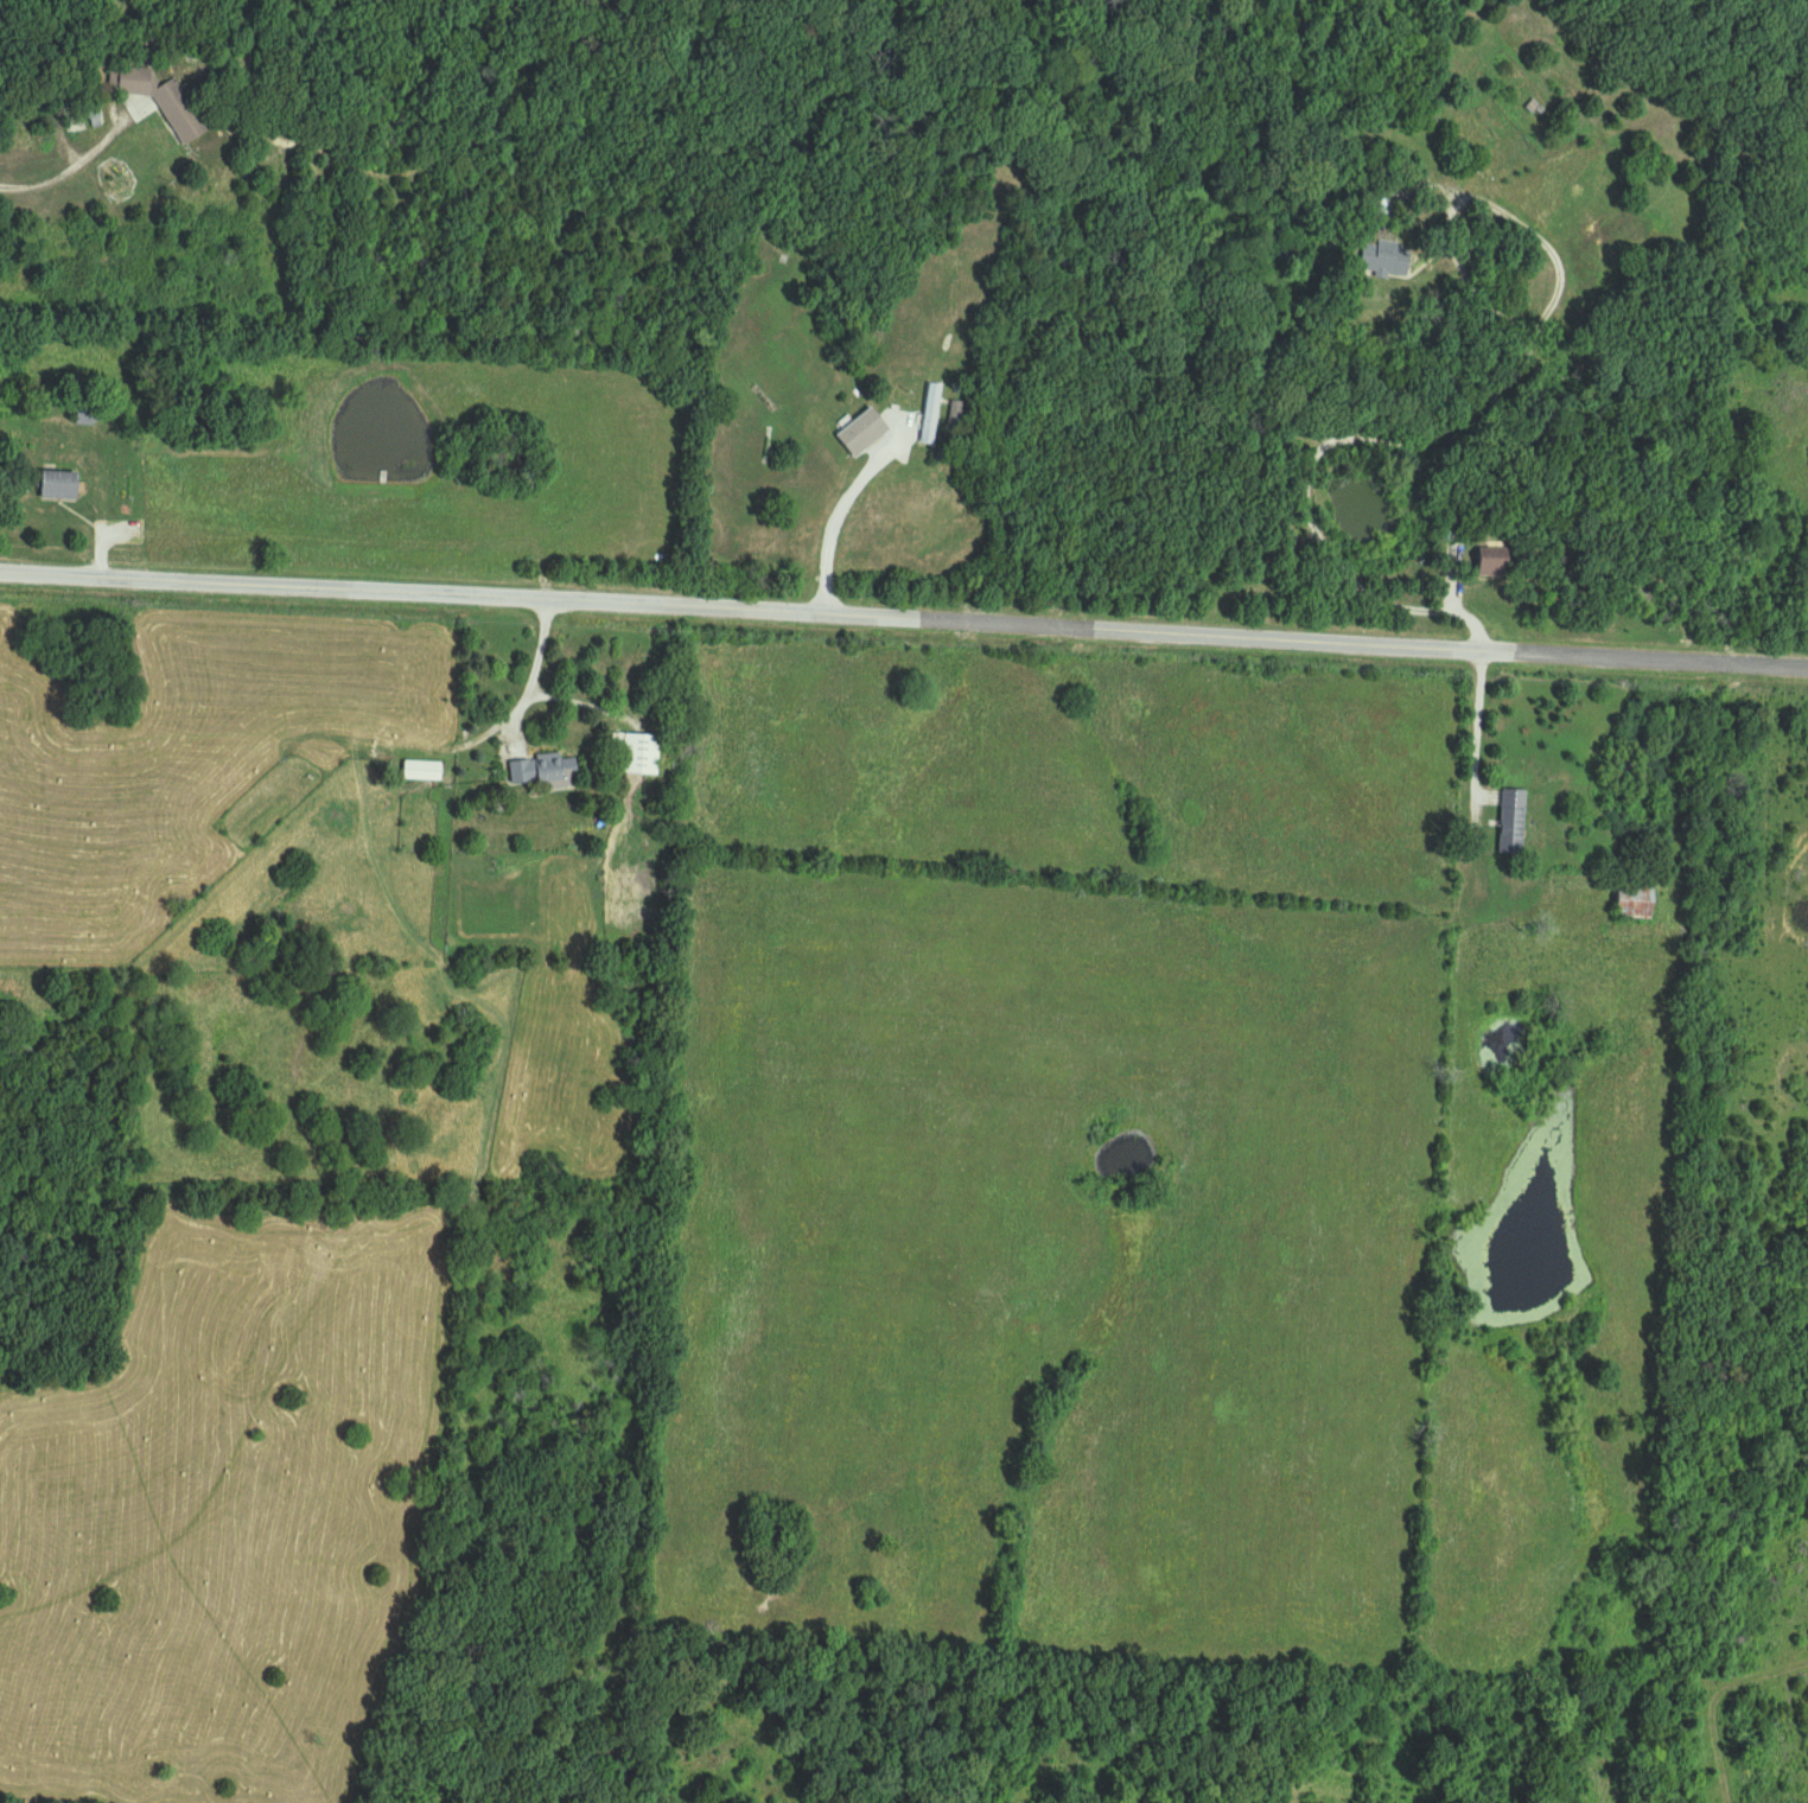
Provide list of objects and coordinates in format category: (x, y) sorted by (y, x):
building: (164, 101)
road: (83, 160)
building: (1377, 208)
building: (89, 414)
building: (931, 415)
building: (956, 419)
road: (1414, 472)
building: (61, 486)
road: (829, 518)
building: (1495, 568)
road: (904, 619)
road: (531, 675)
building: (641, 754)
building: (422, 771)
building: (545, 771)
building: (1513, 821)
building: (1635, 901)

